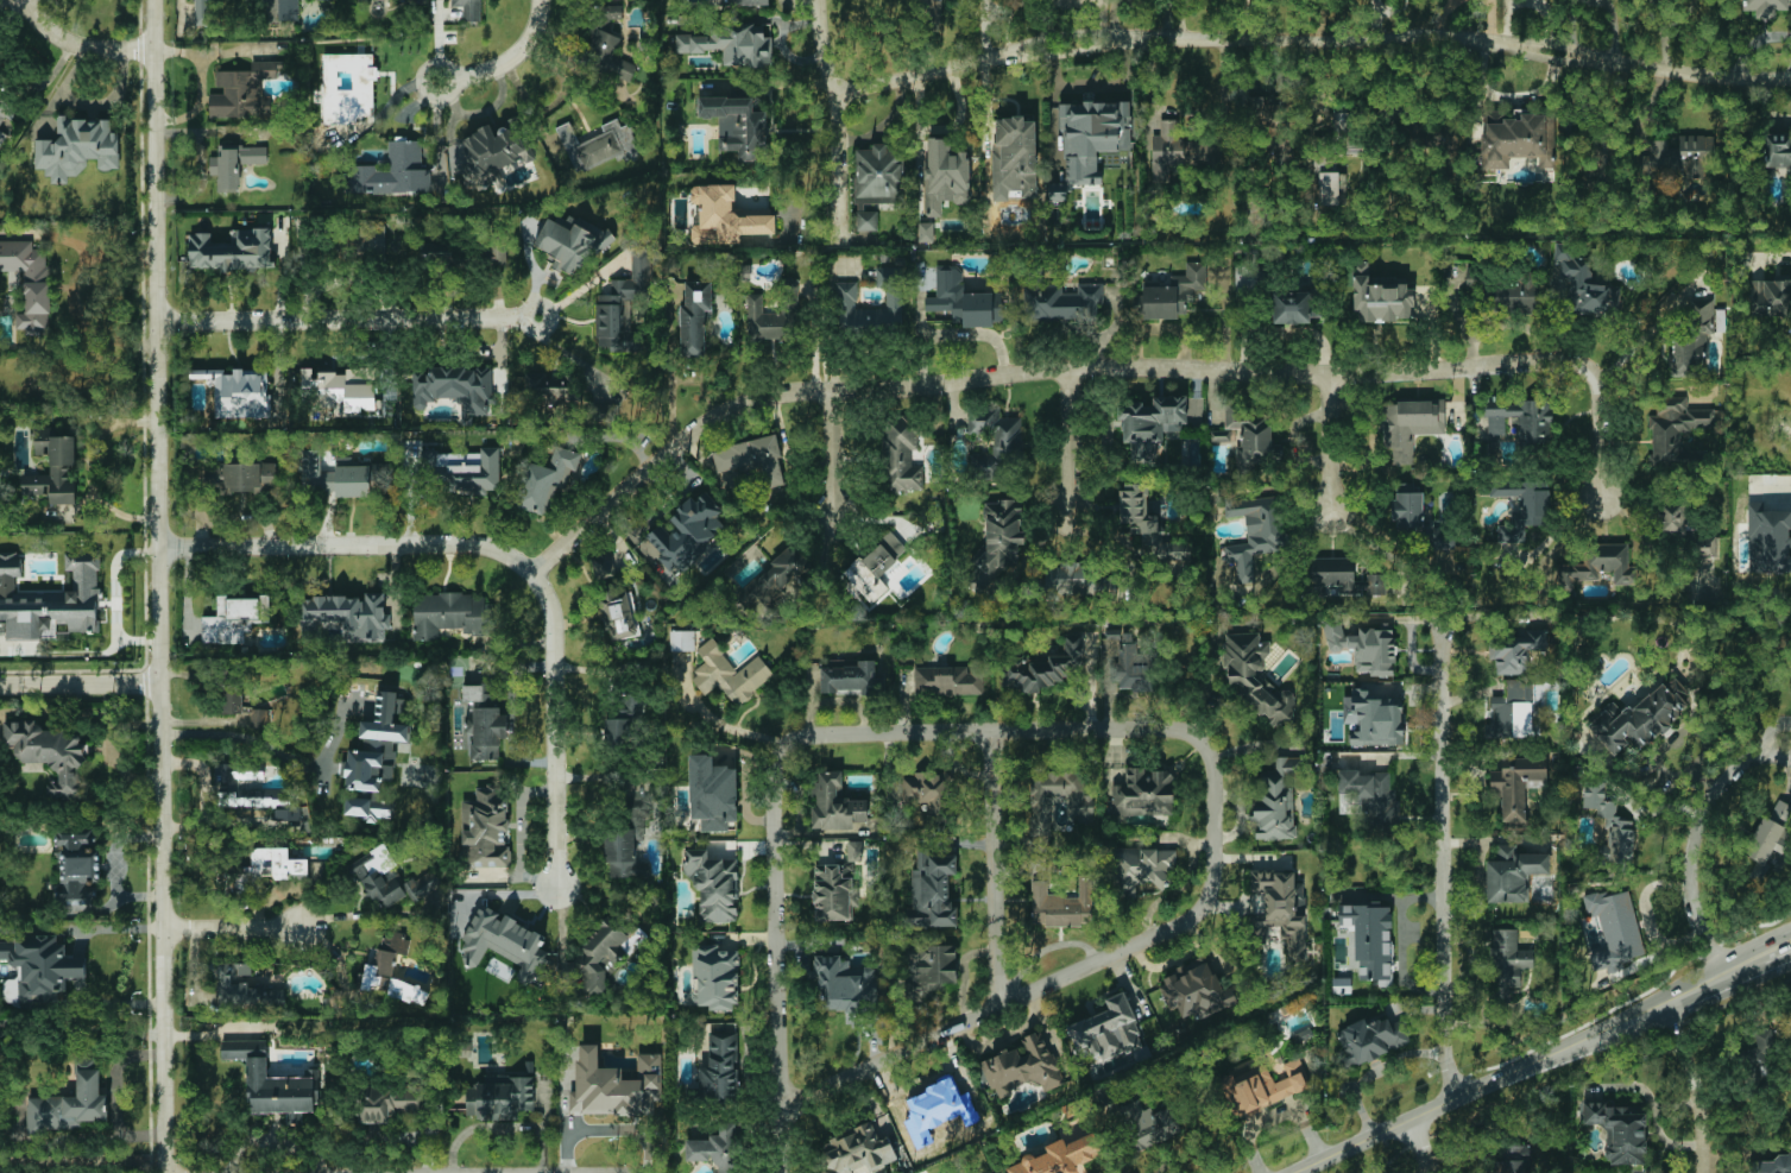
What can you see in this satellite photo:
building: (324, 0)
road: (1598, 0)
building: (746, 2)
building: (1765, 6)
building: (289, 10)
building: (469, 10)
building: (612, 11)
building: (204, 12)
road: (1308, 40)
road: (80, 44)
building: (732, 44)
road: (216, 51)
building: (607, 55)
road: (507, 57)
building: (348, 87)
building: (242, 90)
road: (89, 103)
road: (198, 103)
building: (1263, 109)
building: (5, 113)
road: (831, 120)
building: (738, 122)
building: (1341, 124)
building: (1515, 139)
building: (1090, 141)
building: (598, 146)
building: (77, 149)
building: (492, 150)
building: (1169, 151)
building: (1778, 151)
building: (1015, 154)
building: (1678, 156)
building: (234, 164)
building: (396, 170)
building: (877, 176)
building: (945, 176)
building: (1329, 188)
building: (726, 216)
building: (866, 221)
building: (926, 232)
building: (570, 242)
building: (232, 250)
building: (441, 256)
building: (29, 283)
building: (1584, 283)
building: (1171, 294)
building: (1511, 296)
building: (846, 297)
building: (1770, 297)
building: (964, 299)
building: (1060, 301)
building: (1382, 301)
building: (624, 303)
building: (1294, 307)
road: (347, 317)
building: (694, 319)
building: (767, 321)
building: (1692, 340)
road: (1095, 368)
building: (342, 389)
building: (455, 389)
building: (239, 392)
building: (549, 392)
building: (605, 412)
building: (1519, 420)
building: (1150, 425)
building: (1410, 425)
building: (1675, 428)
building: (1250, 437)
road: (1071, 441)
road: (1329, 442)
building: (995, 443)
road: (828, 453)
building: (901, 458)
building: (751, 459)
building: (53, 468)
building: (461, 471)
building: (241, 478)
building: (544, 480)
building: (1522, 506)
building: (1671, 517)
building: (1419, 522)
building: (1149, 525)
building: (1254, 532)
building: (686, 534)
building: (1768, 541)
building: (998, 542)
building: (1704, 547)
road: (505, 556)
building: (1597, 566)
building: (603, 567)
building: (875, 568)
building: (1342, 578)
building: (1071, 580)
building: (776, 584)
road: (159, 586)
road: (116, 595)
building: (51, 599)
building: (450, 613)
building: (620, 613)
building: (347, 614)
road: (1576, 614)
building: (233, 619)
building: (681, 641)
building: (1364, 647)
building: (1514, 650)
building: (1127, 662)
building: (1045, 667)
building: (729, 674)
building: (1255, 677)
building: (849, 679)
building: (948, 680)
road: (78, 683)
building: (231, 699)
building: (1513, 710)
building: (259, 718)
building: (1374, 719)
building: (1638, 719)
building: (484, 723)
road: (718, 723)
building: (622, 724)
road: (1128, 727)
road: (1764, 738)
building: (377, 745)
road: (278, 751)
building: (49, 753)
road: (201, 769)
building: (1516, 786)
building: (251, 792)
building: (928, 792)
building: (712, 793)
building: (1143, 793)
building: (1368, 796)
building: (1278, 800)
building: (1058, 803)
building: (835, 805)
building: (371, 806)
building: (1610, 821)
building: (1514, 825)
building: (487, 830)
building: (1768, 839)
building: (626, 846)
road: (1690, 849)
road: (1440, 864)
building: (78, 866)
building: (1141, 868)
road: (998, 869)
building: (1513, 874)
building: (378, 877)
building: (425, 884)
building: (714, 885)
building: (932, 889)
building: (834, 891)
building: (1061, 906)
building: (1280, 909)
road: (229, 927)
road: (113, 929)
building: (1615, 929)
building: (1370, 938)
building: (505, 942)
road: (1774, 951)
building: (601, 956)
building: (1507, 961)
road: (81, 966)
building: (928, 966)
building: (38, 969)
building: (390, 970)
building: (715, 977)
building: (844, 985)
building: (244, 988)
building: (1197, 990)
road: (109, 1005)
building: (1108, 1029)
road: (80, 1034)
building: (1370, 1040)
building: (1759, 1051)
building: (1022, 1065)
road: (1527, 1065)
building: (720, 1067)
road: (1375, 1071)
building: (273, 1083)
building: (616, 1085)
road: (1692, 1085)
building: (1262, 1087)
road: (116, 1097)
building: (504, 1097)
building: (472, 1099)
building: (72, 1102)
building: (387, 1102)
road: (1279, 1116)
building: (1149, 1123)
road: (606, 1130)
building: (1619, 1131)
road: (781, 1144)
road: (1418, 1146)
building: (718, 1148)
building: (854, 1150)
building: (1060, 1156)
road: (97, 1159)
building: (1512, 1159)
building: (1770, 1165)
road: (608, 1172)

